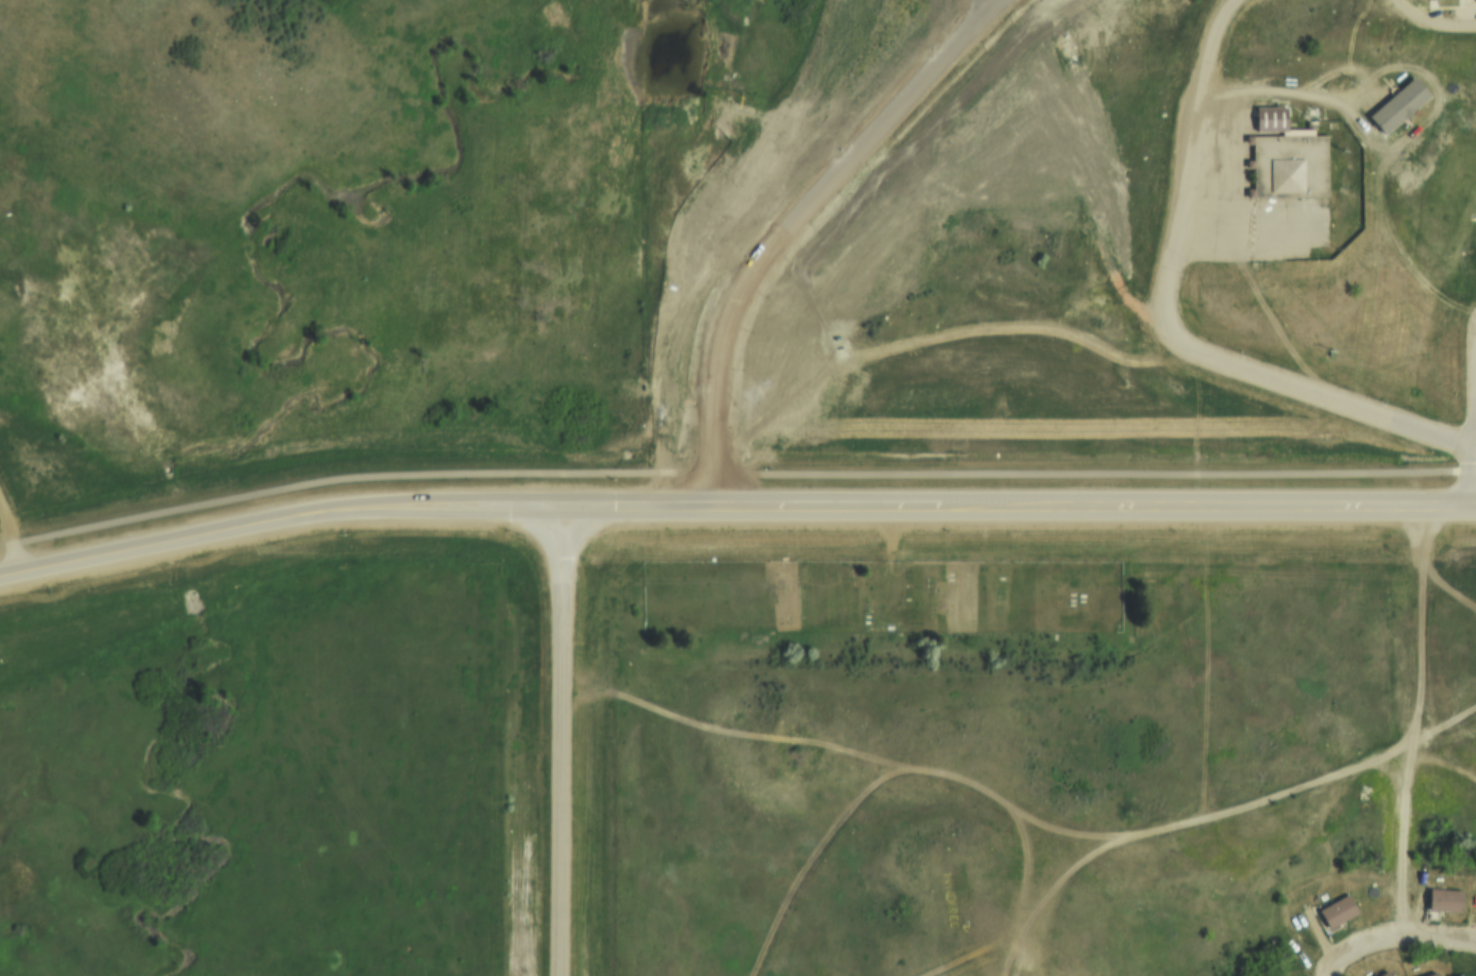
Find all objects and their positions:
building: (1428, 1)
road: (1433, 26)
building: (1396, 108)
building: (1268, 119)
building: (1286, 168)
road: (729, 235)
road: (1165, 323)
road: (1024, 510)
road: (21, 518)
road: (284, 519)
park: (880, 590)
road: (559, 742)
road: (1286, 804)
road: (1412, 816)
building: (1442, 899)
building: (1334, 911)
road: (1396, 935)
building: (1382, 973)
building: (1427, 973)

